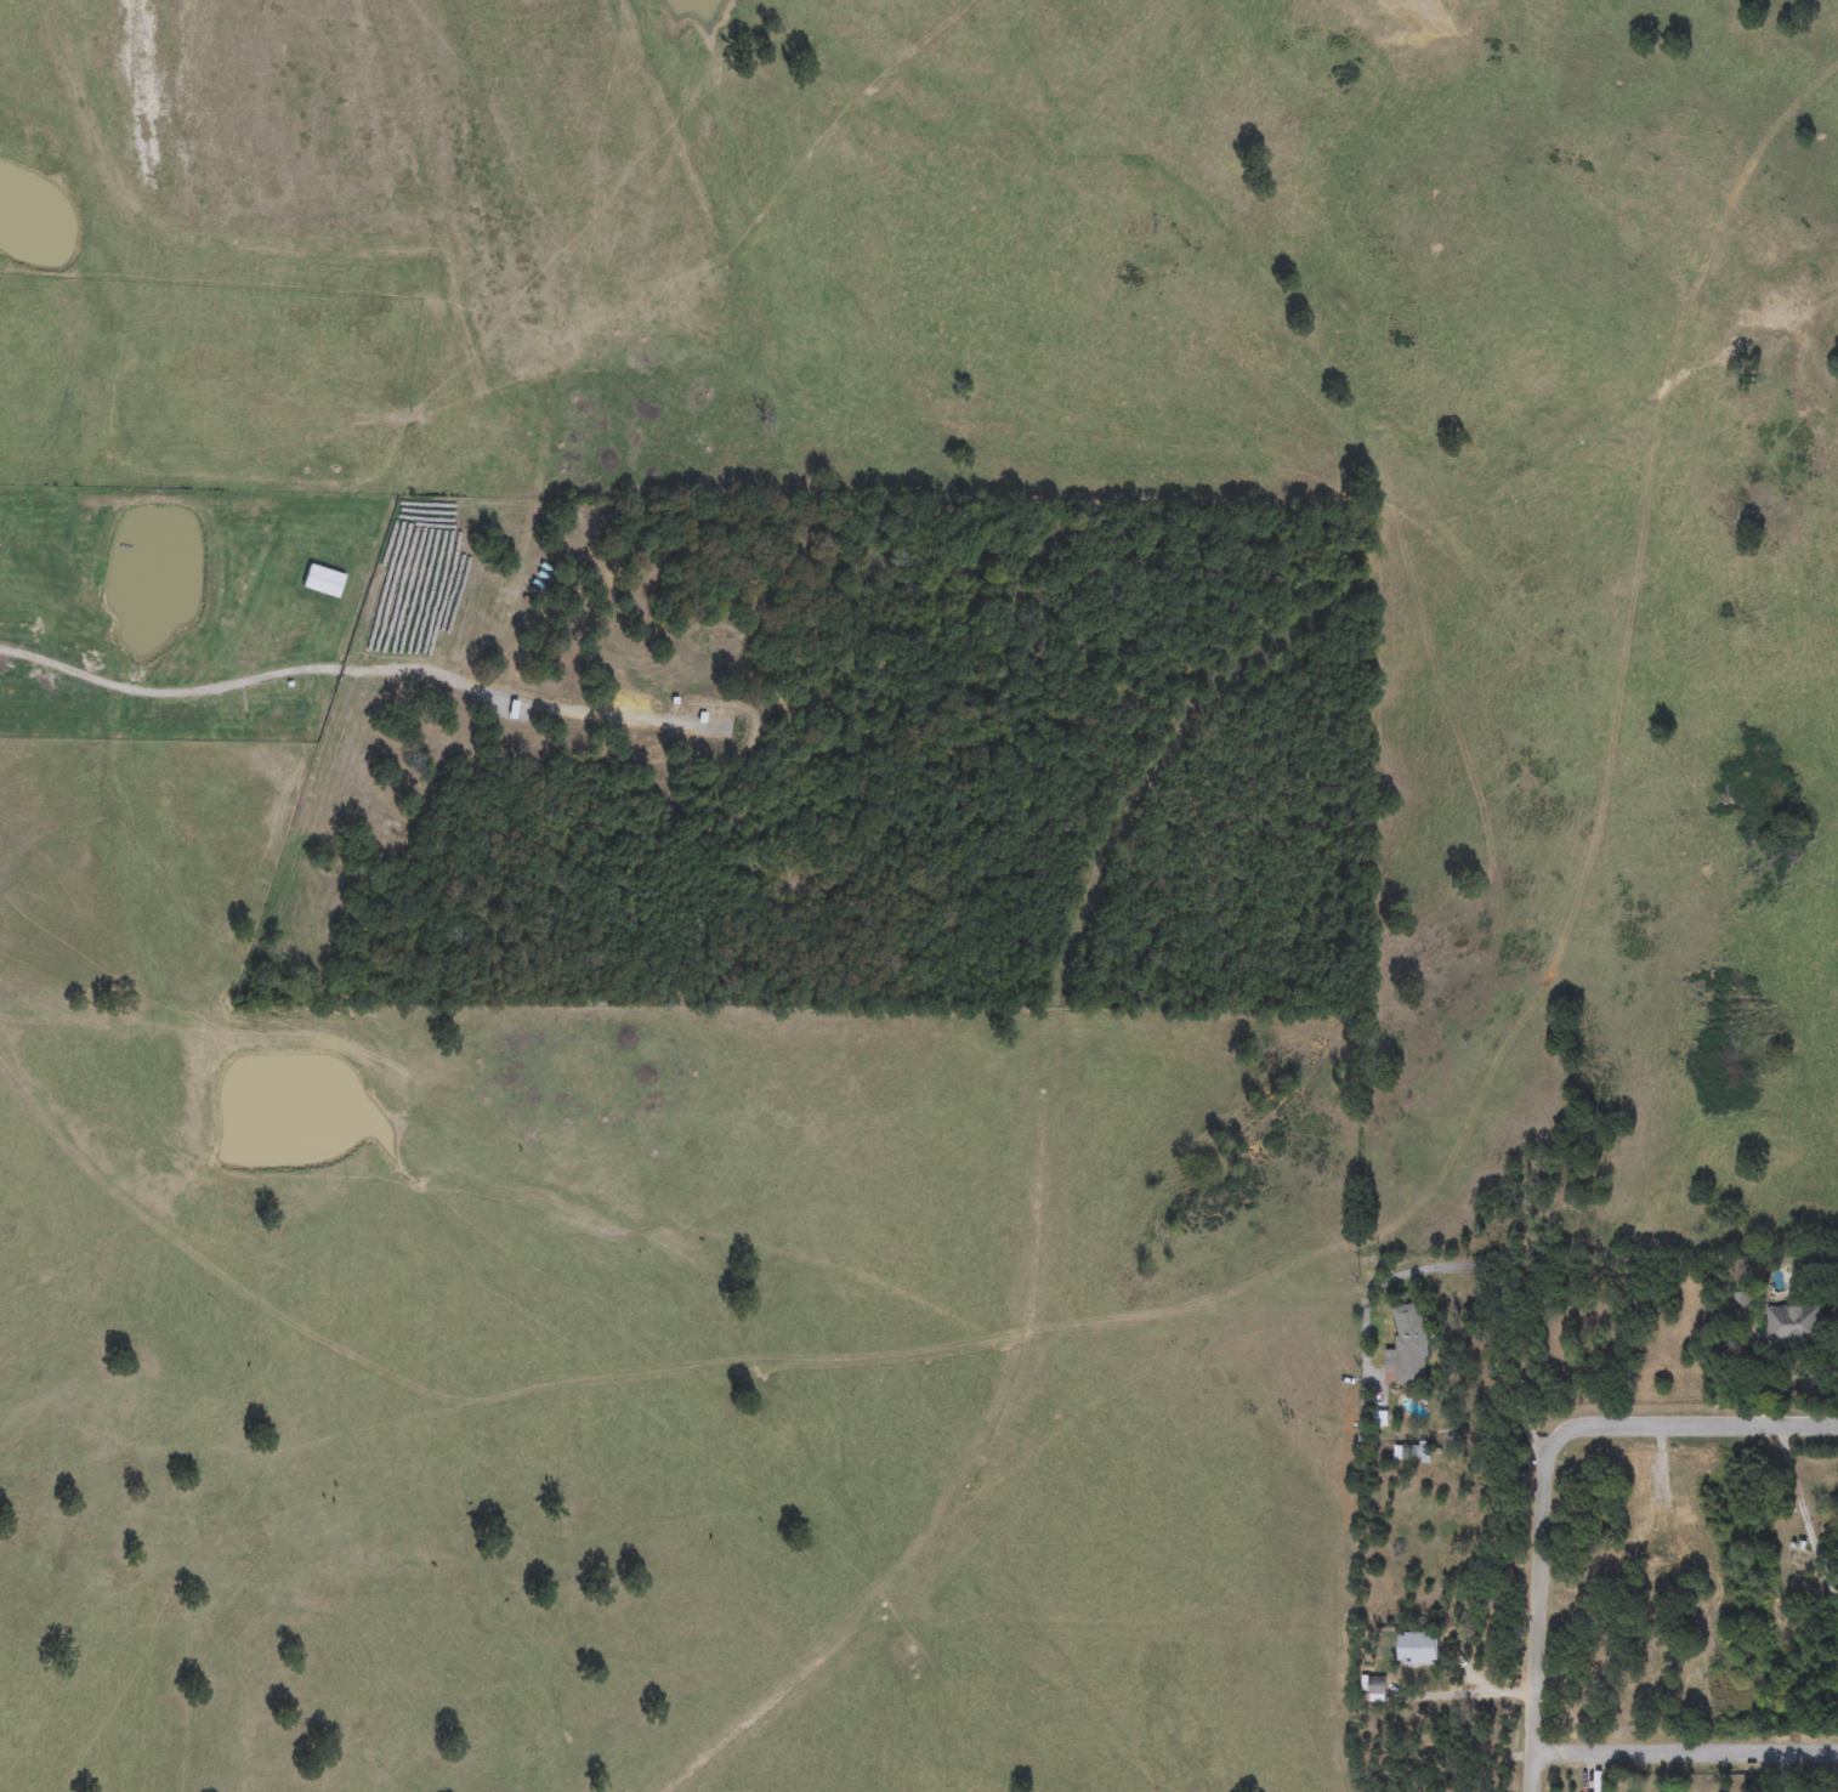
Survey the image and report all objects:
road: (287, 669)
road: (1482, 1271)
building: (1741, 1302)
building: (1792, 1326)
building: (1409, 1346)
road: (1543, 1473)
building: (1686, 1514)
road: (1803, 1516)
building: (1419, 1650)
building: (1694, 1654)
building: (1598, 1663)
building: (1377, 1691)
road: (1686, 1757)

